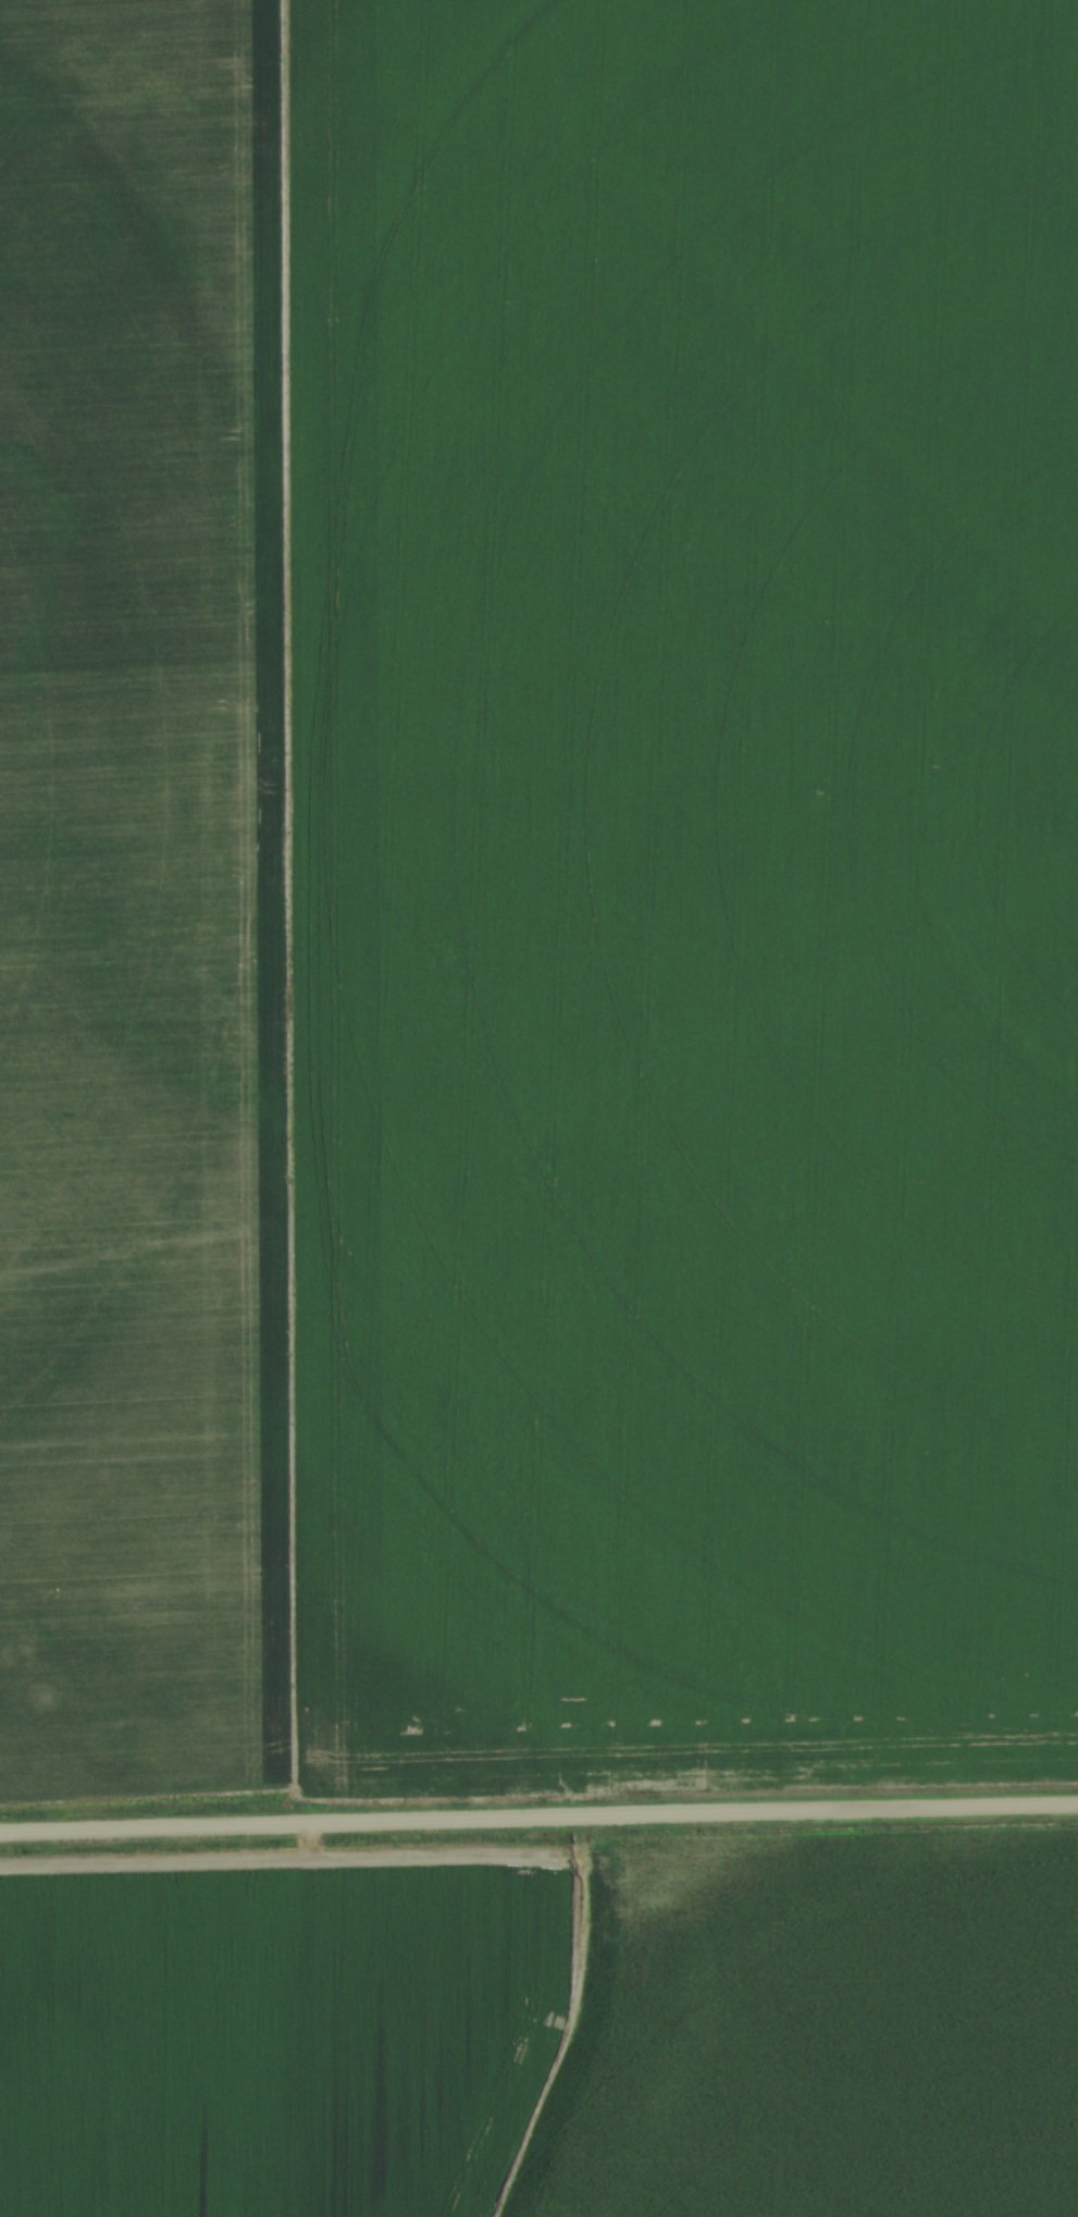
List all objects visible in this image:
road: (538, 1822)

